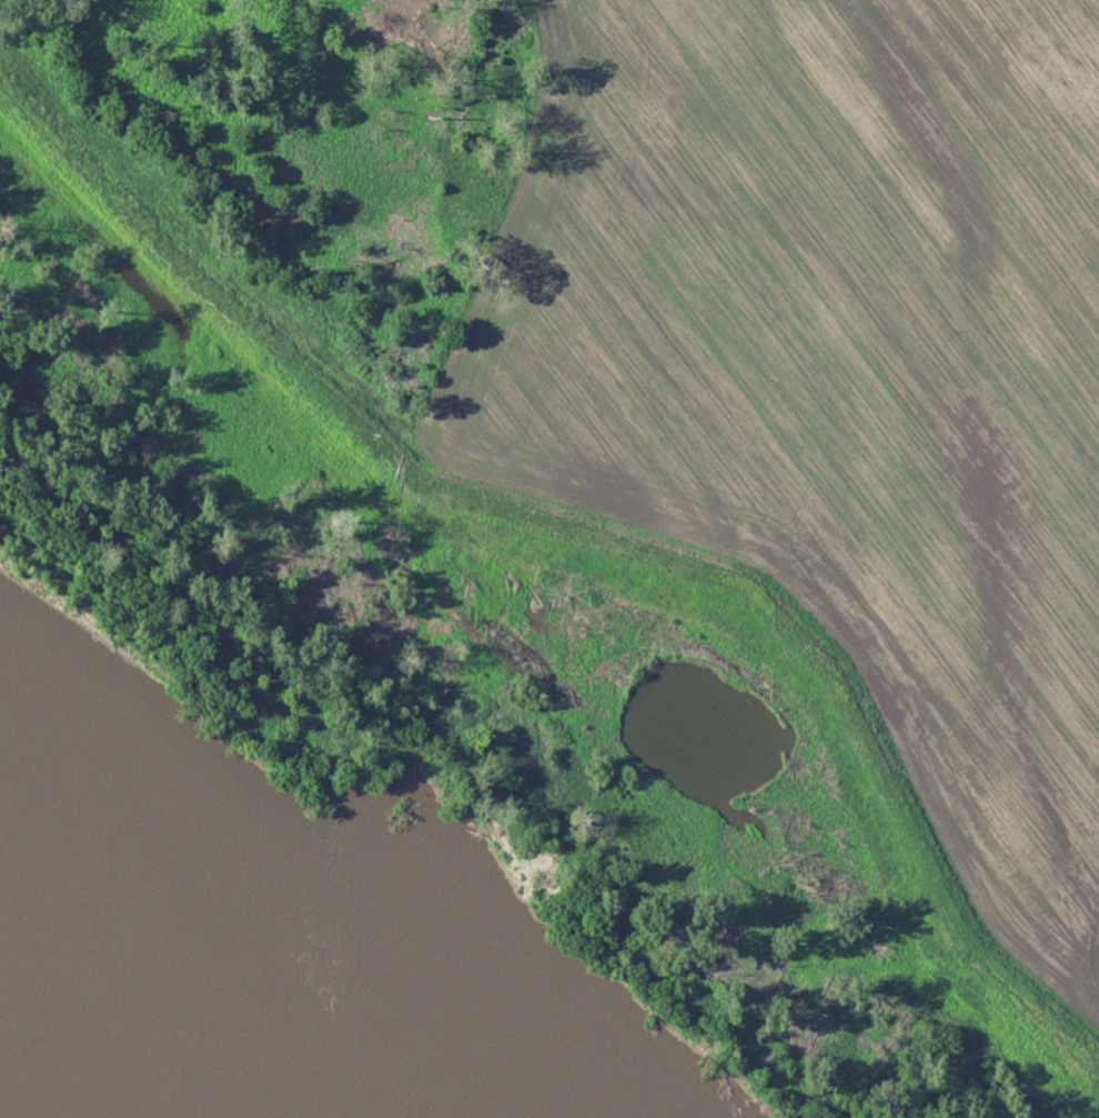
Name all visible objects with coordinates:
river: (85, 1041)

